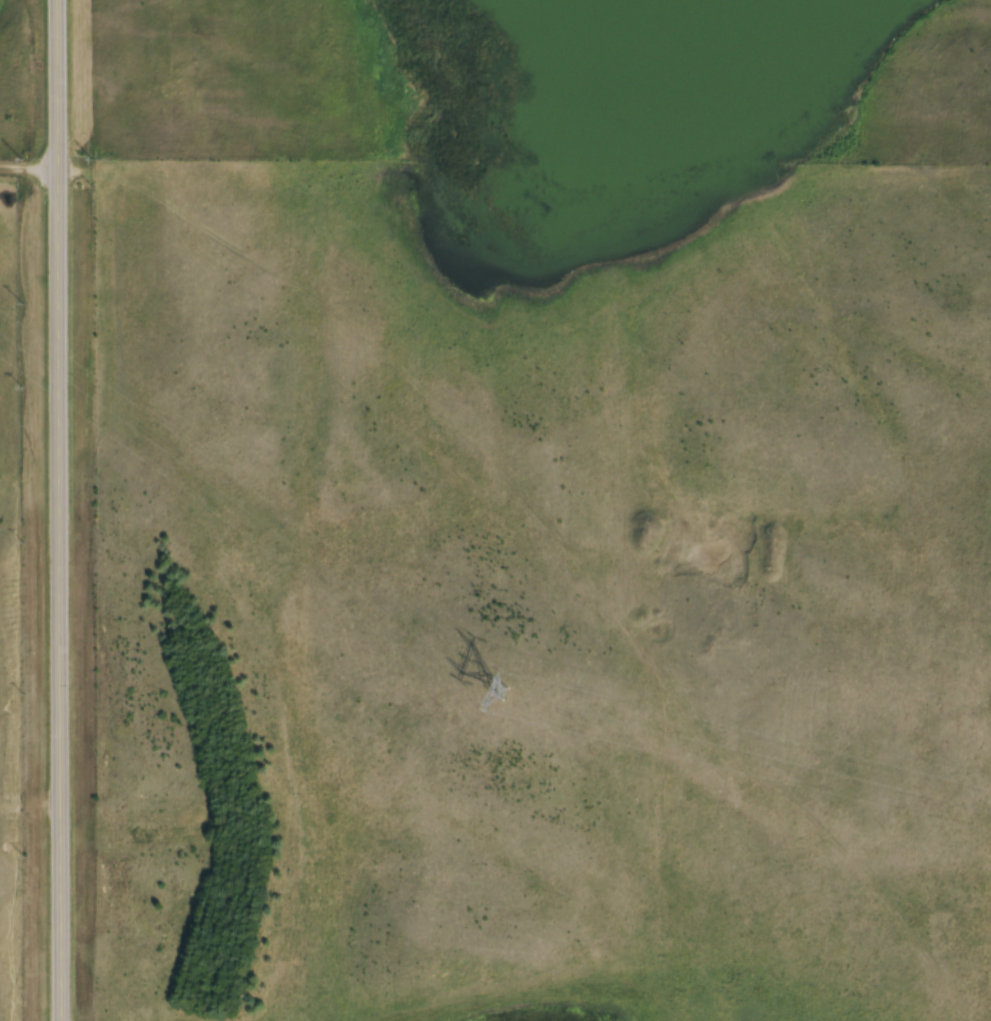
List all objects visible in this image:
road: (64, 510)
power tower: (495, 697)

